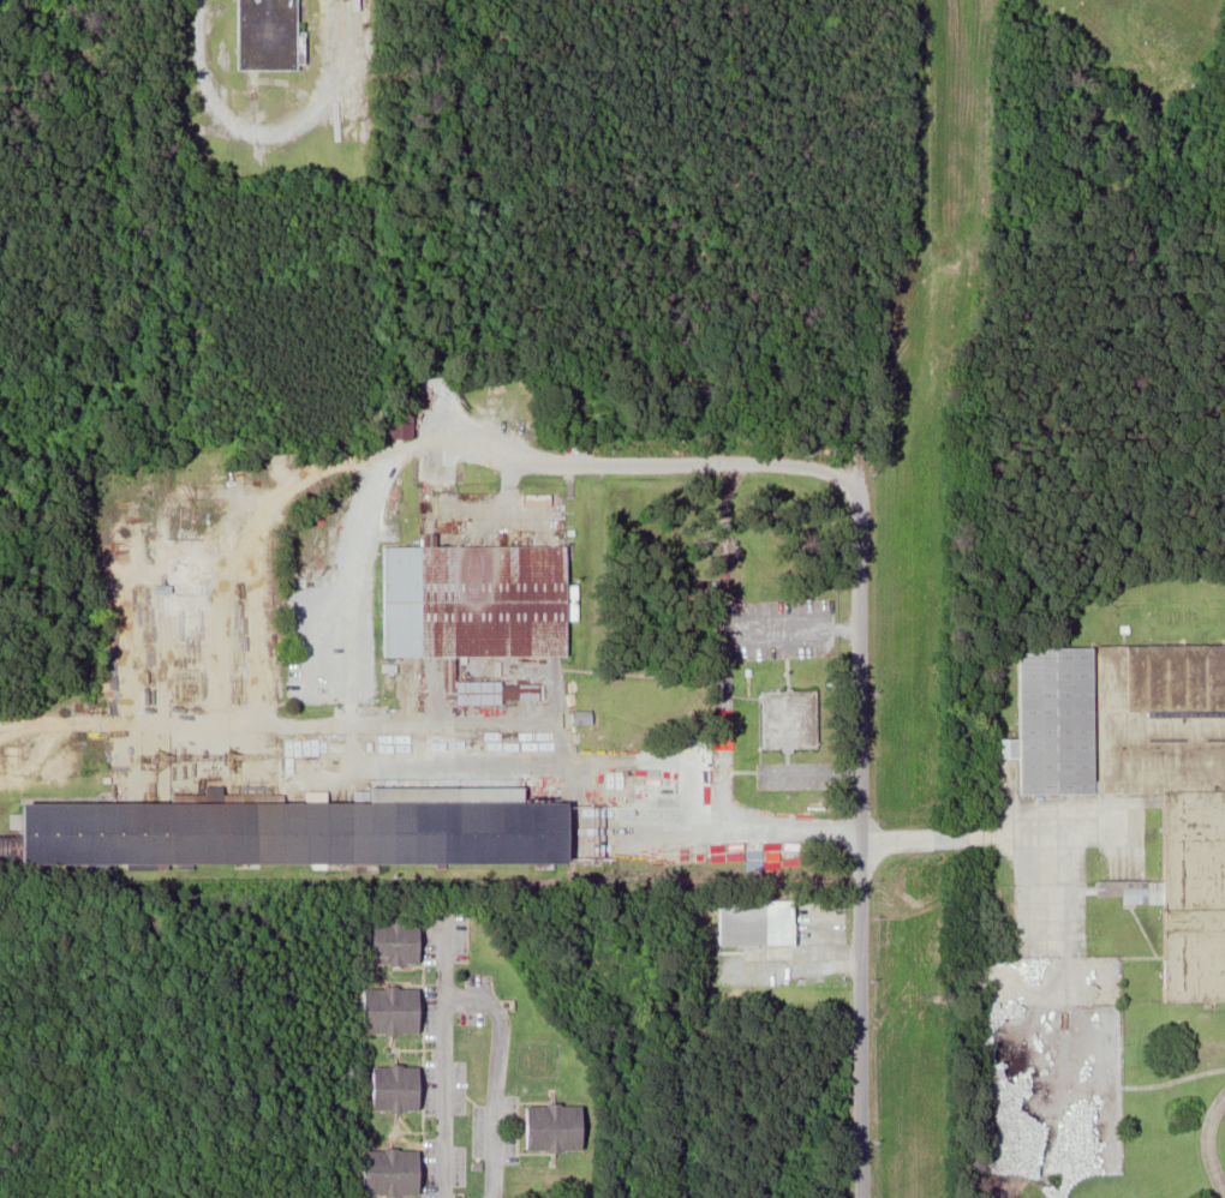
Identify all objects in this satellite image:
building: (271, 35)
building: (479, 610)
building: (791, 719)
building: (1060, 723)
building: (312, 831)
road: (861, 837)
building: (1116, 870)
building: (1190, 893)
building: (760, 921)
building: (400, 941)
building: (1017, 993)
building: (396, 1010)
building: (1026, 1049)
road: (444, 1058)
road: (497, 1076)
building: (402, 1088)
building: (560, 1127)
building: (398, 1173)

